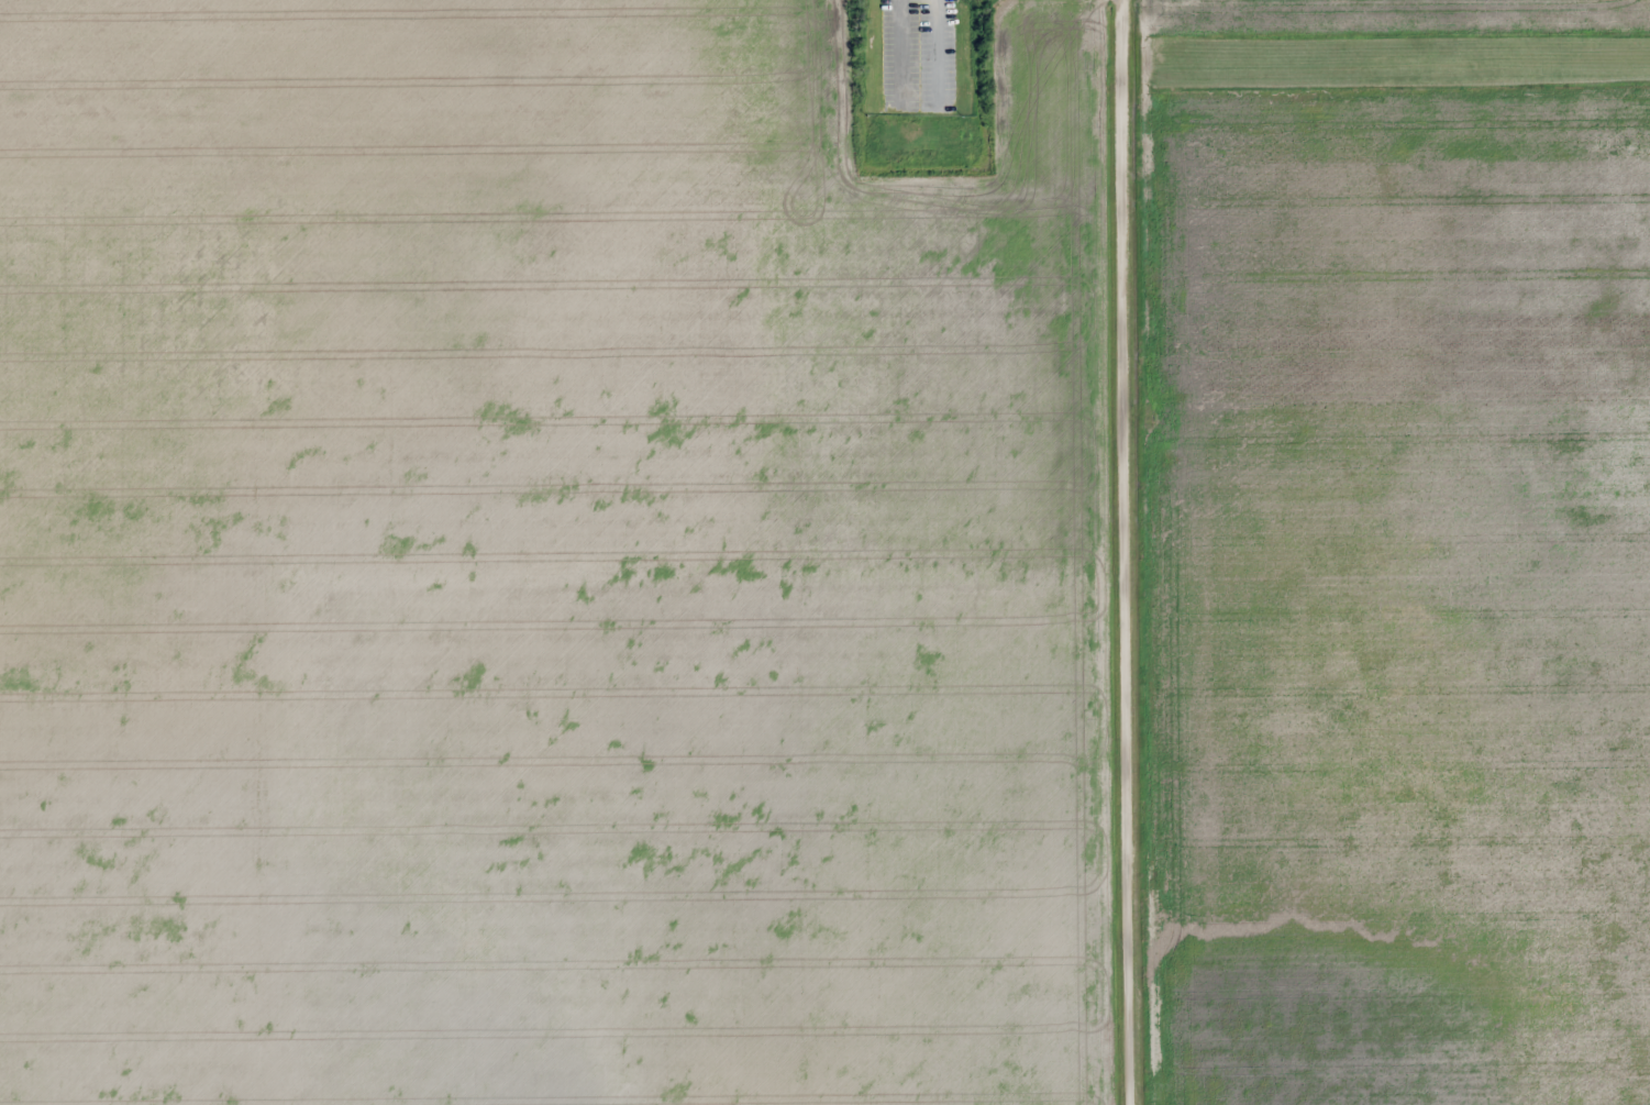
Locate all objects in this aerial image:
airport runway: (1403, 62)
road: (1122, 552)

